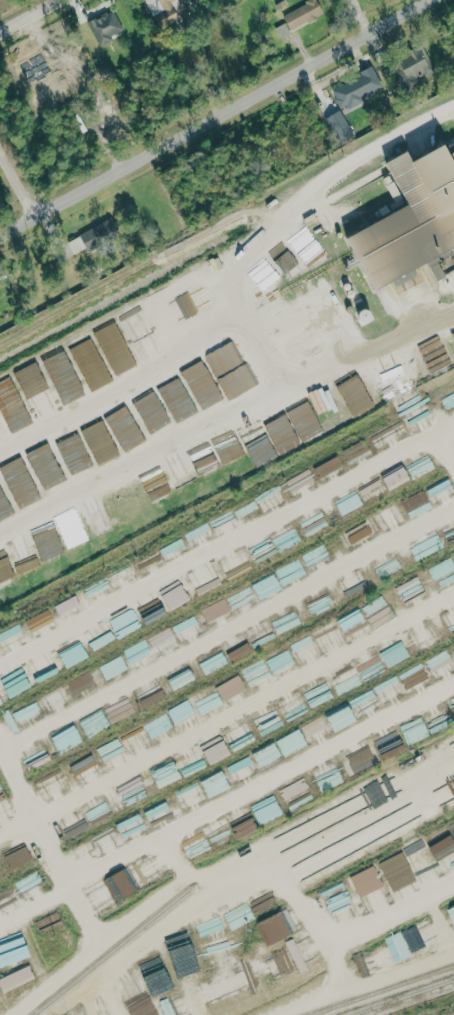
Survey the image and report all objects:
building: (164, 12)
building: (303, 13)
road: (26, 14)
building: (106, 27)
building: (283, 30)
building: (357, 88)
road: (212, 116)
building: (339, 125)
road: (19, 175)
building: (412, 223)
building: (93, 237)
road: (409, 253)
road: (229, 263)
building: (163, 317)
building: (201, 384)
building: (176, 398)
road: (223, 435)
building: (128, 436)
building: (98, 442)
road: (447, 445)
building: (355, 449)
building: (442, 493)
building: (422, 497)
building: (4, 508)
building: (390, 519)
road: (226, 552)
building: (266, 586)
building: (69, 603)
building: (40, 622)
road: (227, 638)
building: (117, 665)
building: (256, 675)
building: (415, 678)
building: (388, 690)
building: (55, 700)
building: (341, 719)
road: (221, 730)
building: (291, 742)
building: (215, 785)
building: (340, 811)
road: (317, 846)
building: (131, 878)
road: (394, 895)
road: (303, 897)
building: (451, 914)
building: (279, 926)
railway: (110, 951)
road: (337, 956)
building: (279, 963)
road: (405, 966)
building: (16, 979)
railway: (382, 990)
railway: (399, 996)
building: (106, 1009)

